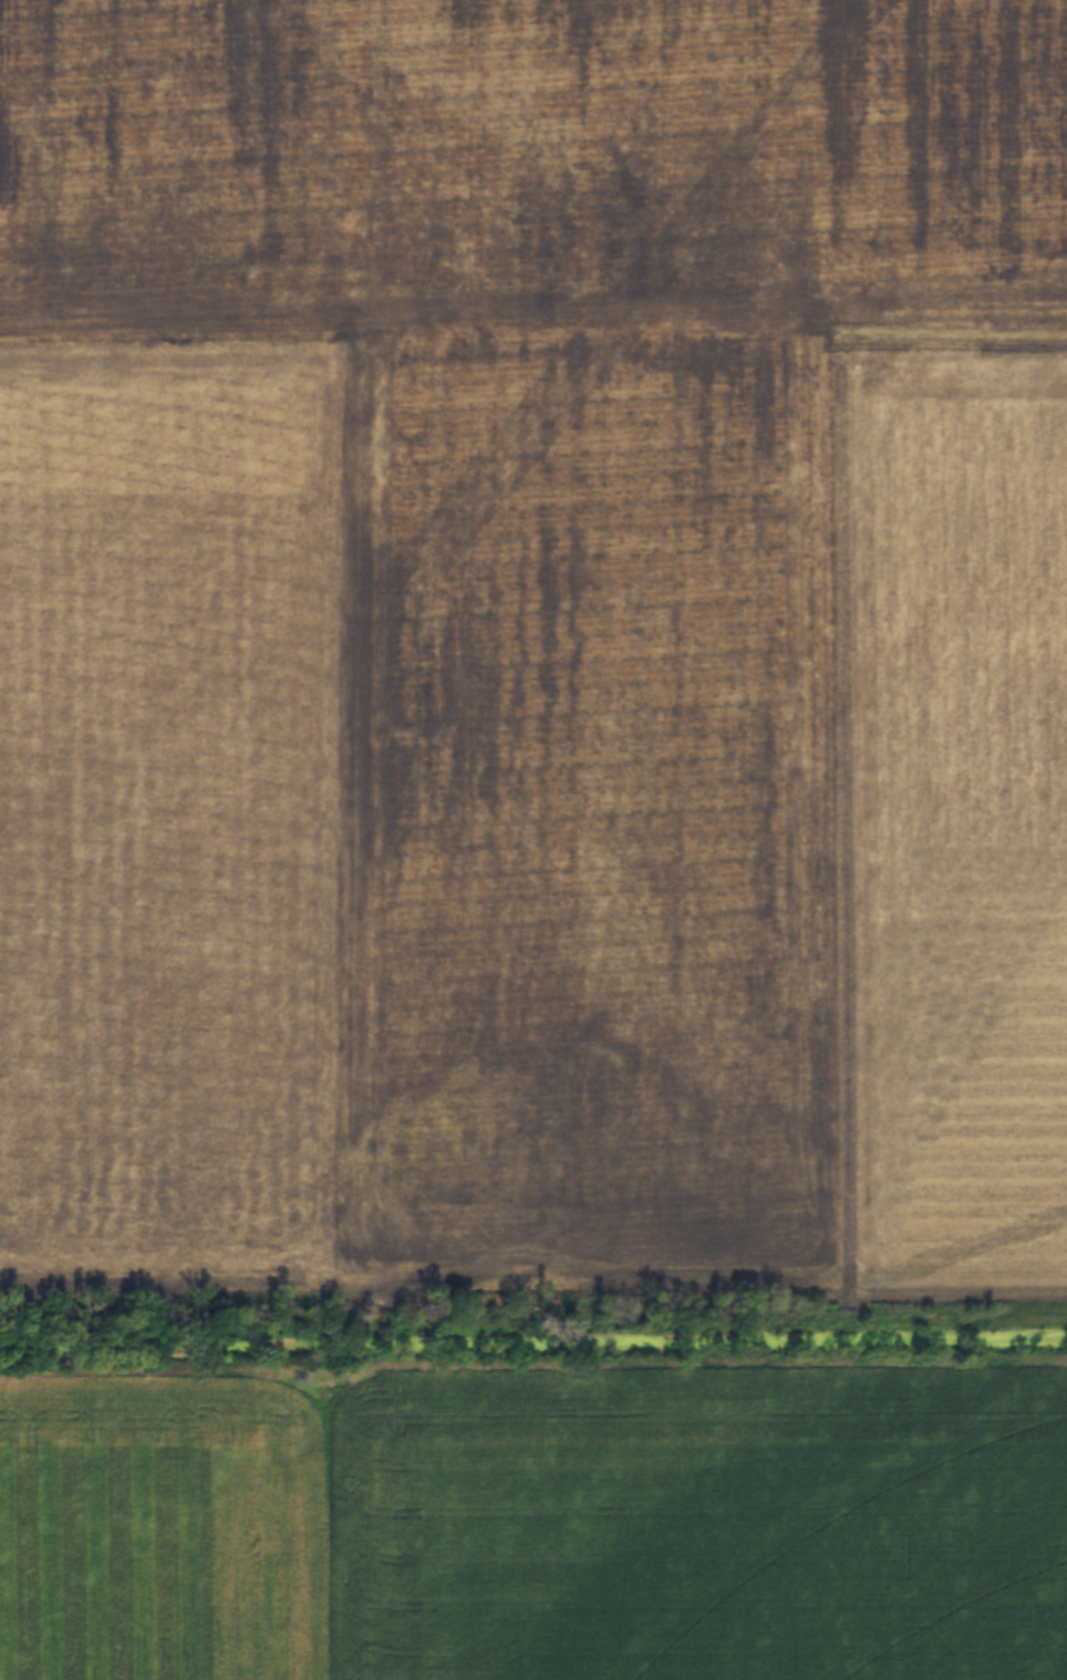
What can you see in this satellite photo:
crop: (163, 1528)

